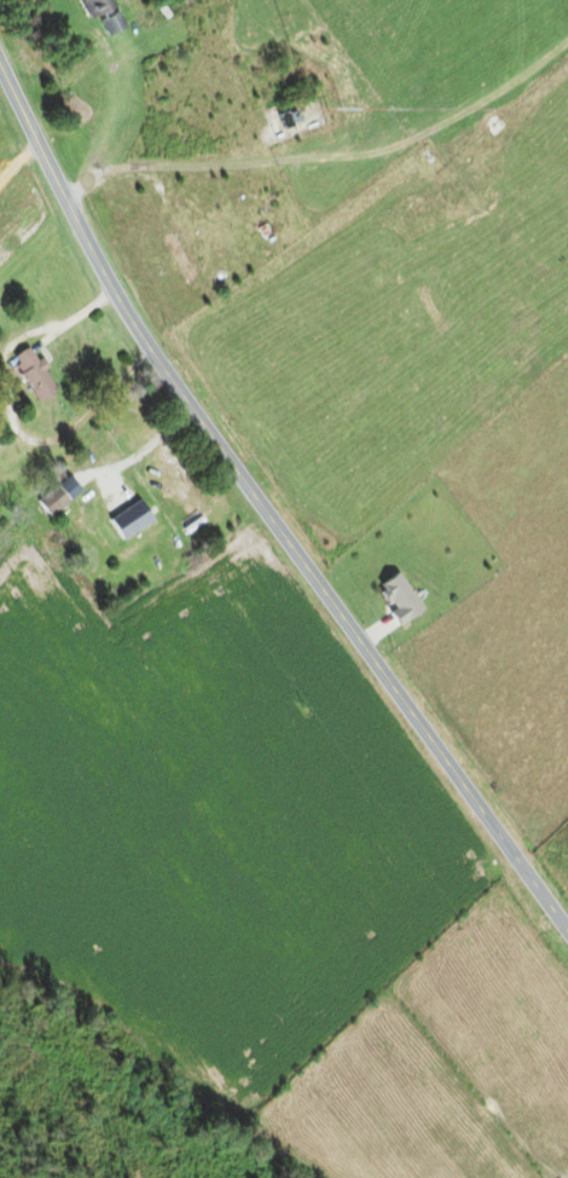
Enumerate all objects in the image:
building: (95, 7)
building: (289, 119)
building: (178, 258)
road: (36, 265)
building: (33, 374)
road: (266, 508)

